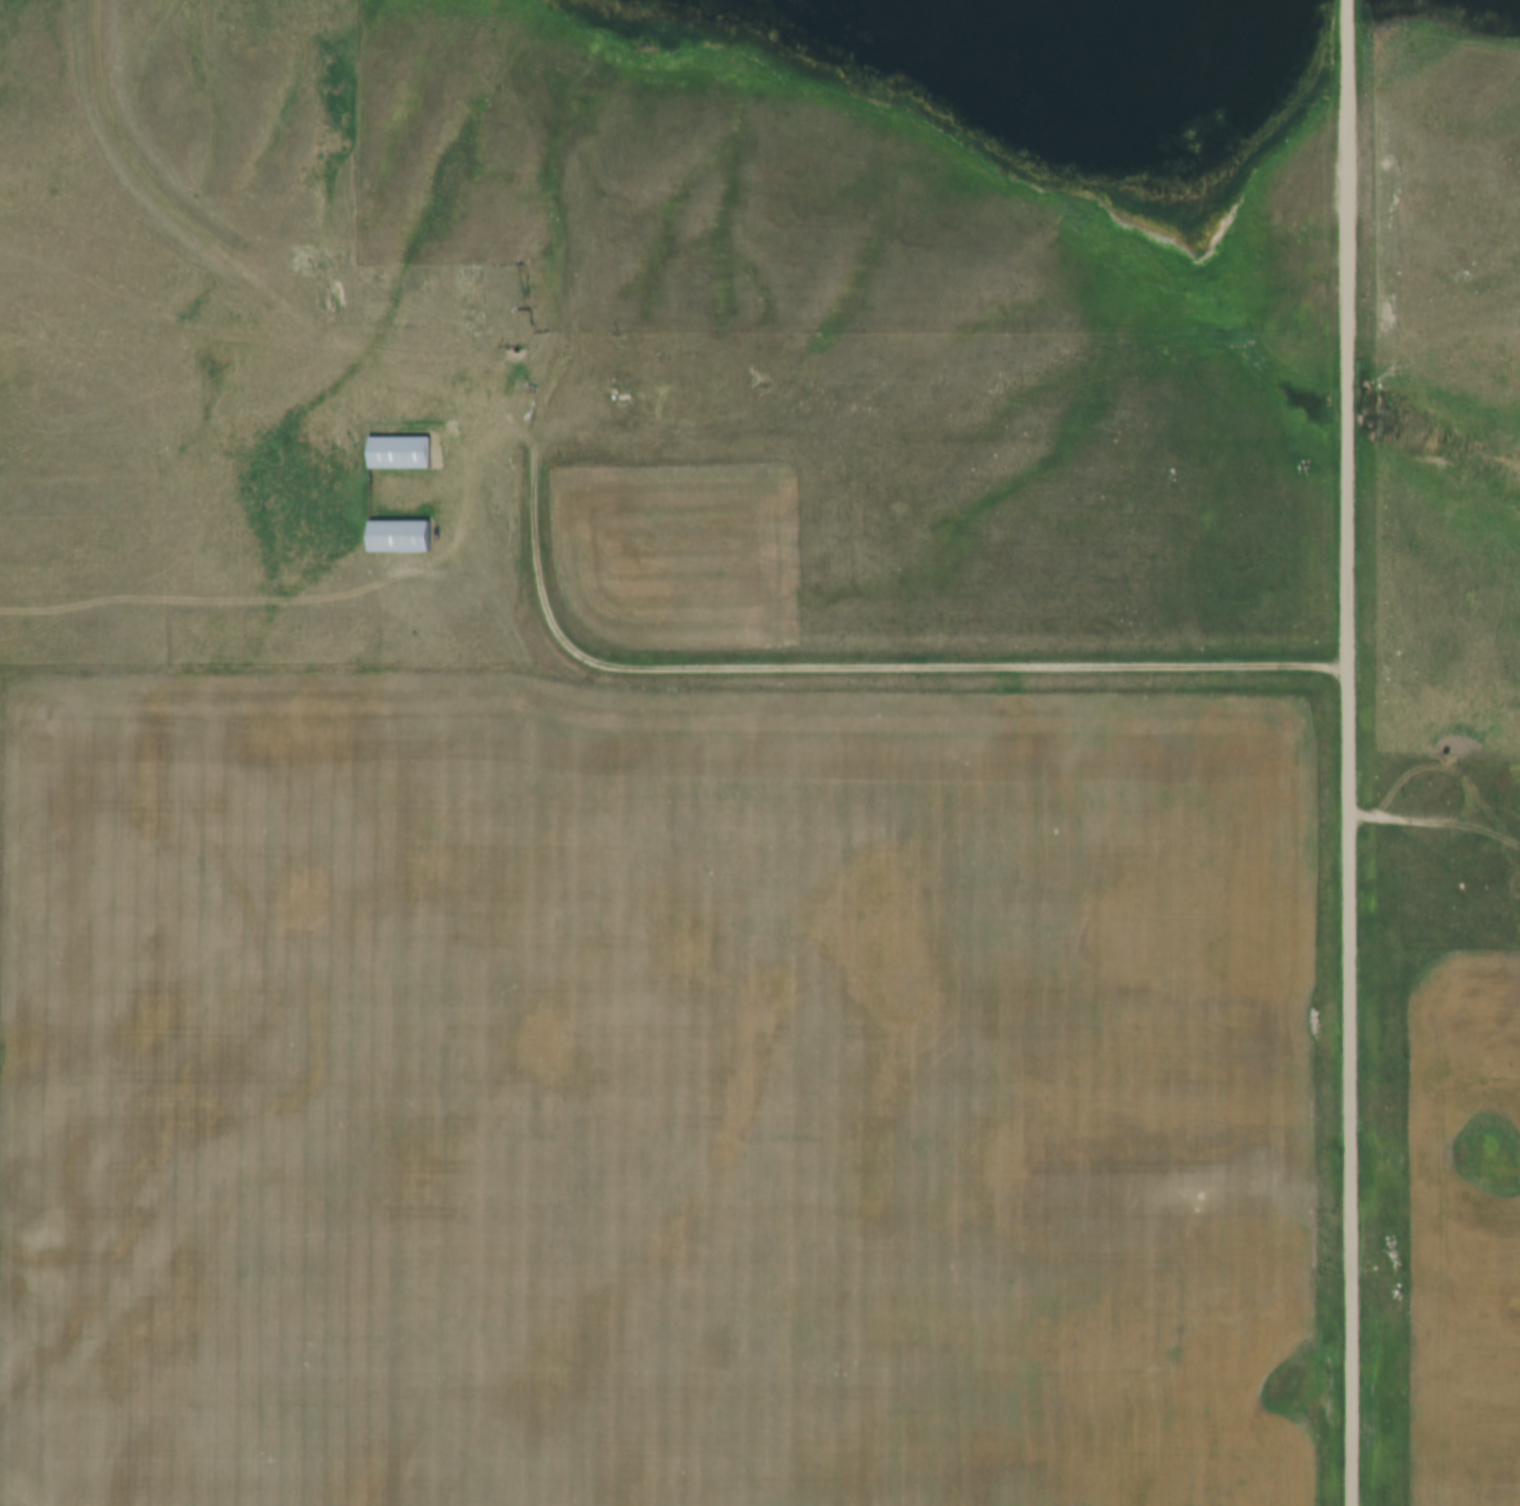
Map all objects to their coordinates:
building: (317, 261)
building: (469, 274)
road: (211, 307)
building: (470, 320)
building: (627, 391)
building: (682, 392)
building: (398, 452)
building: (398, 536)
road: (843, 671)
road: (1349, 753)
road: (1435, 825)
building: (1461, 850)

